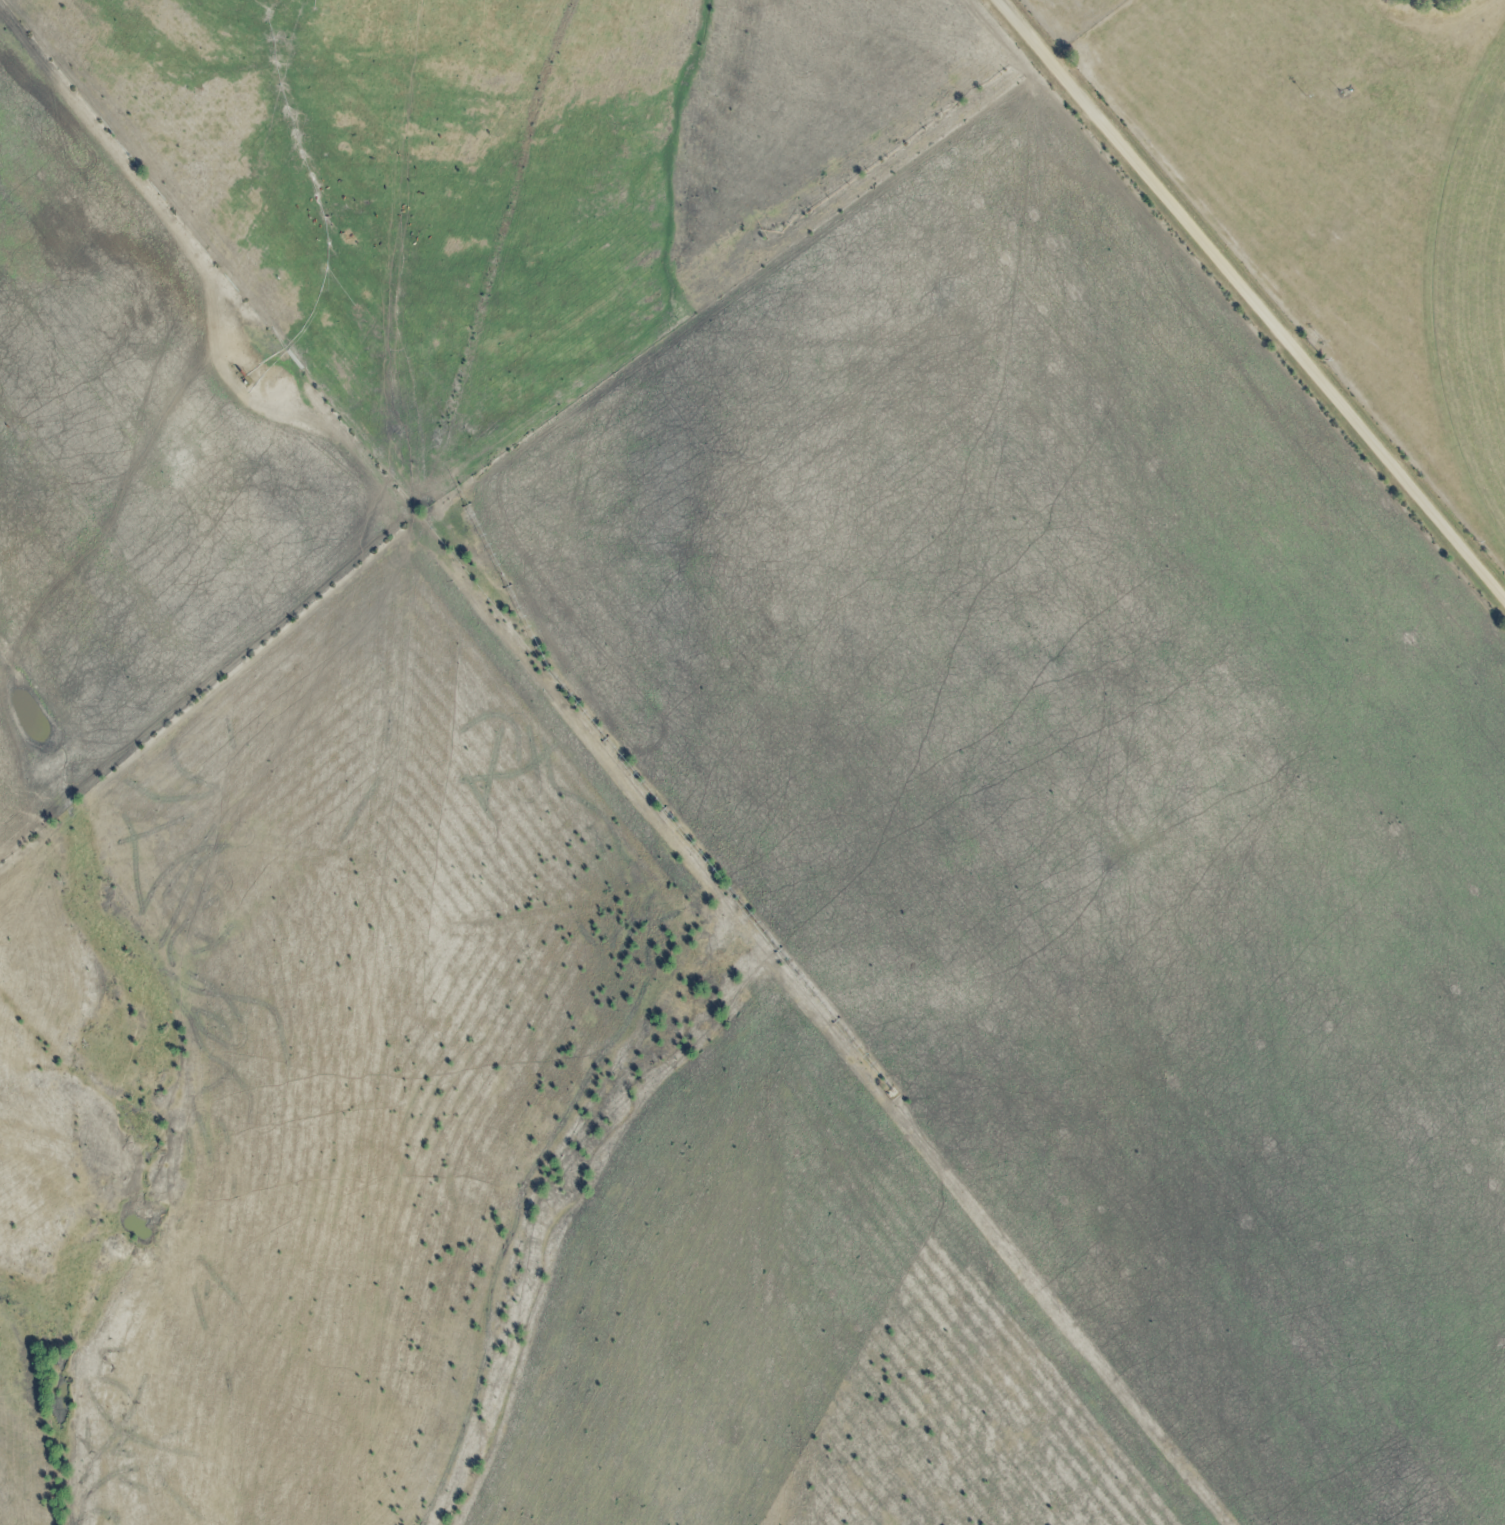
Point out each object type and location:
road: (1254, 299)

